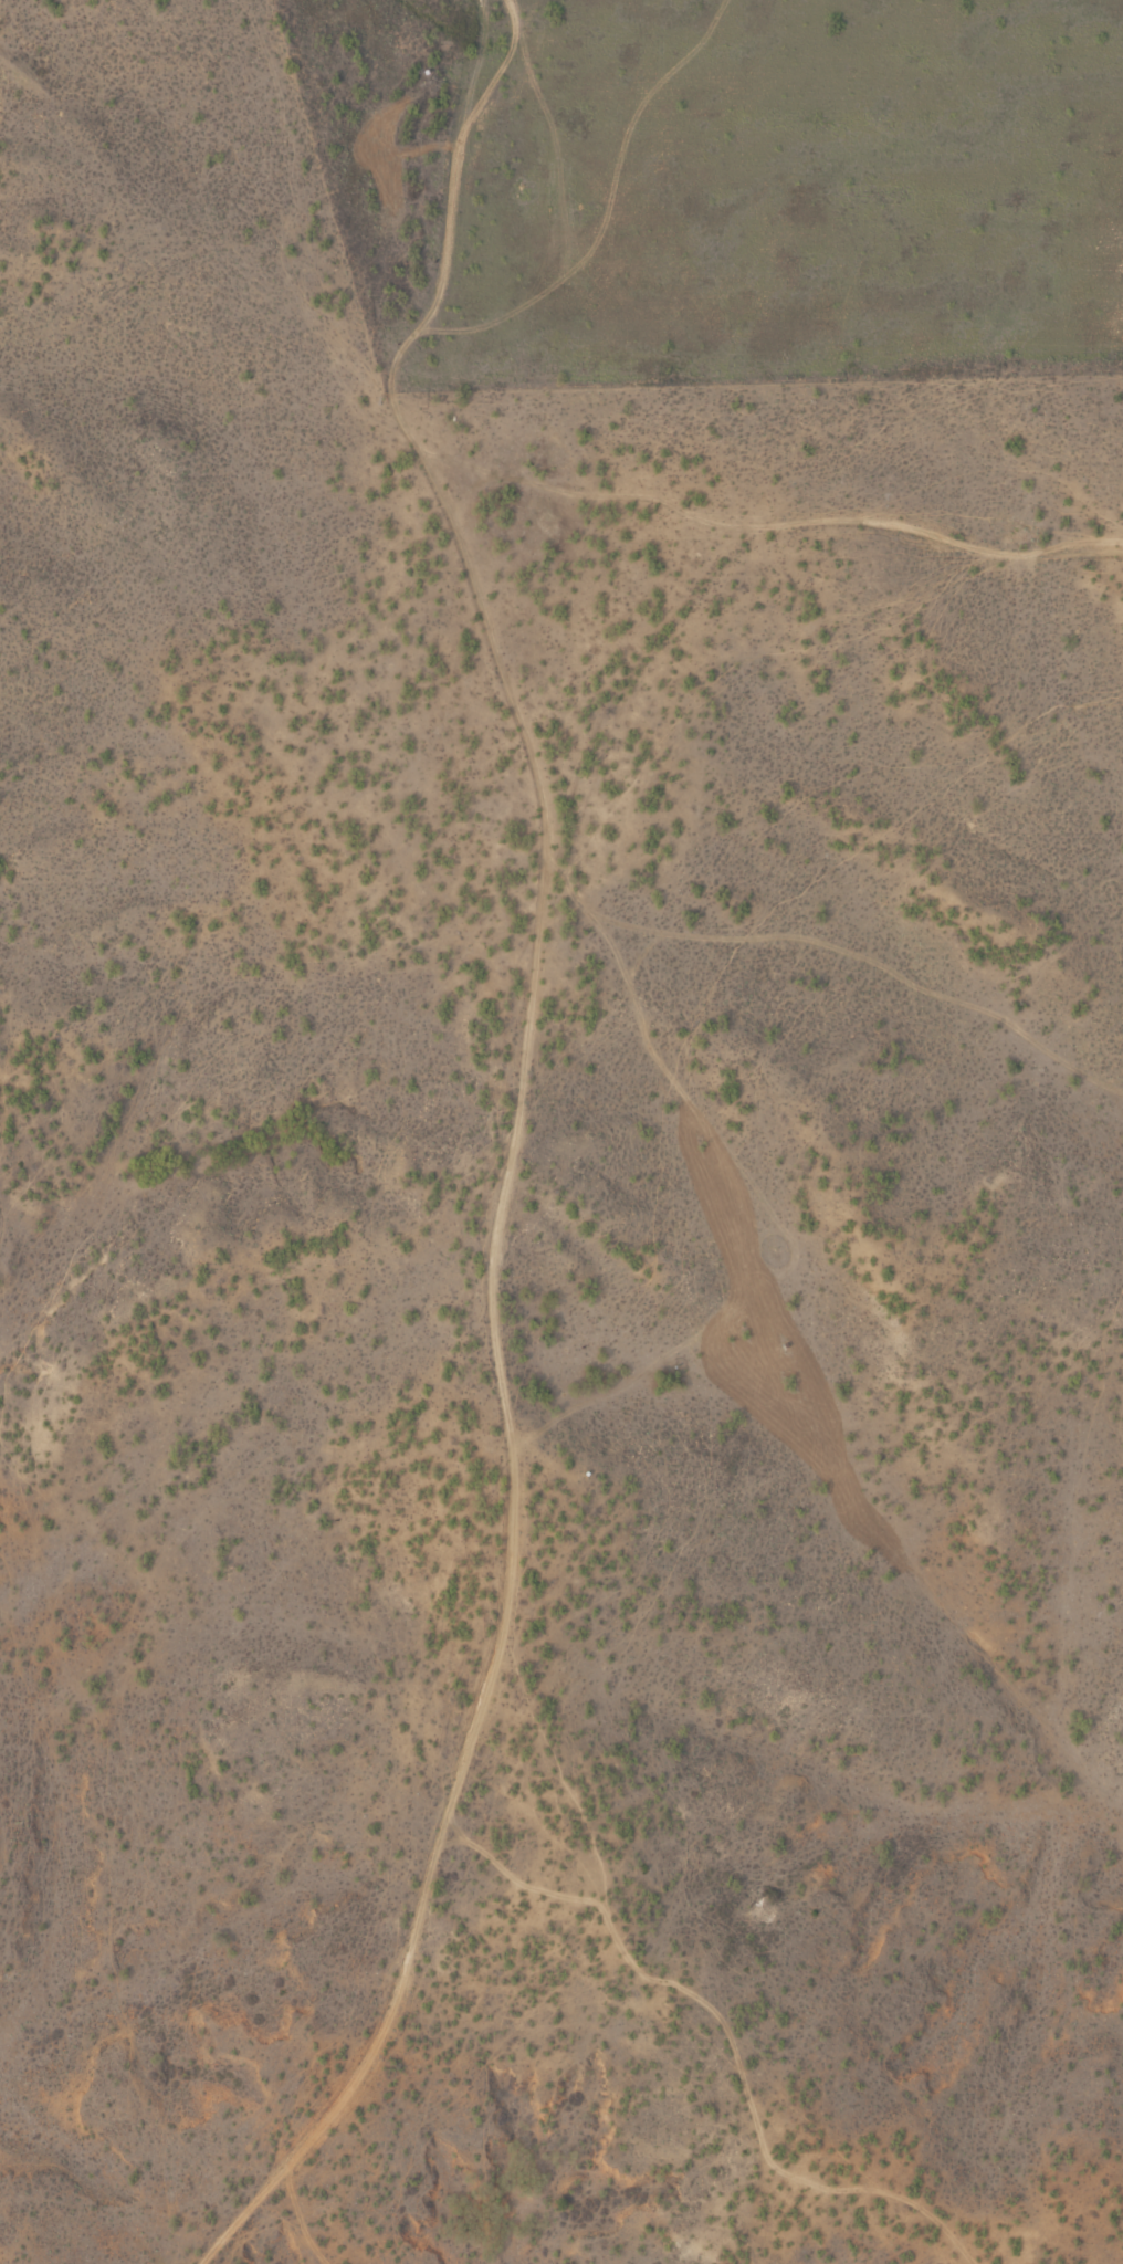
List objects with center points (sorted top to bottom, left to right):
road: (484, 1209)

